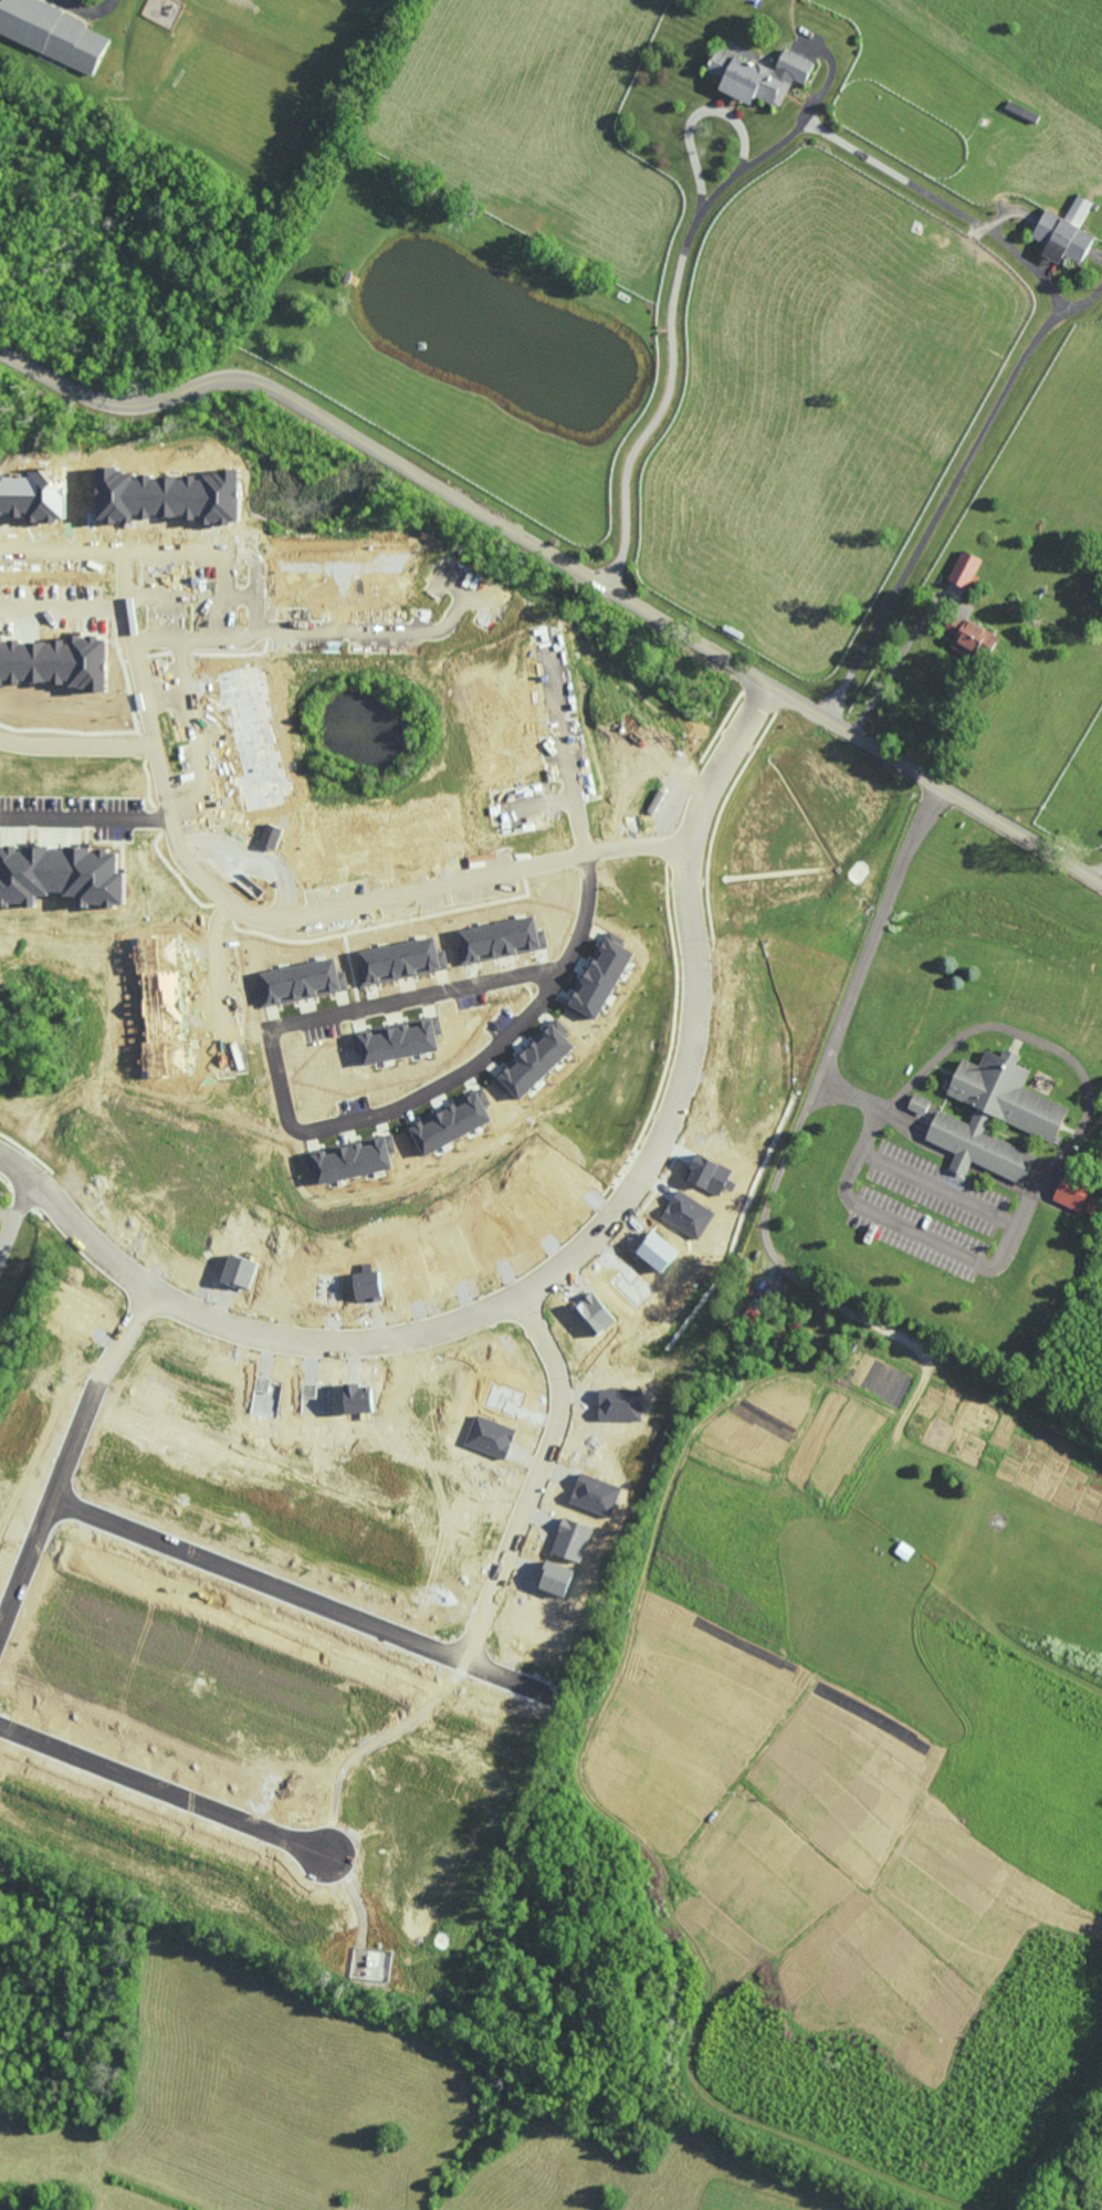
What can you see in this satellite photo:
road: (86, 8)
building: (54, 33)
building: (756, 76)
road: (703, 113)
building: (1064, 233)
road: (1046, 331)
road: (662, 406)
road: (62, 548)
road: (562, 563)
building: (965, 569)
road: (273, 630)
building: (972, 638)
road: (199, 641)
road: (900, 656)
building: (44, 694)
road: (77, 747)
road: (565, 748)
road: (539, 806)
road: (85, 815)
road: (250, 861)
building: (61, 874)
road: (1099, 874)
road: (586, 912)
road: (271, 915)
road: (220, 978)
road: (986, 1027)
road: (282, 1096)
building: (917, 1103)
building: (1031, 1119)
building: (1071, 1191)
road: (13, 1211)
road: (6, 1215)
road: (919, 1230)
road: (772, 1249)
road: (564, 1267)
building: (769, 1296)
road: (67, 1456)
road: (535, 1479)
road: (298, 1595)
road: (161, 1787)
road: (18, 2202)

